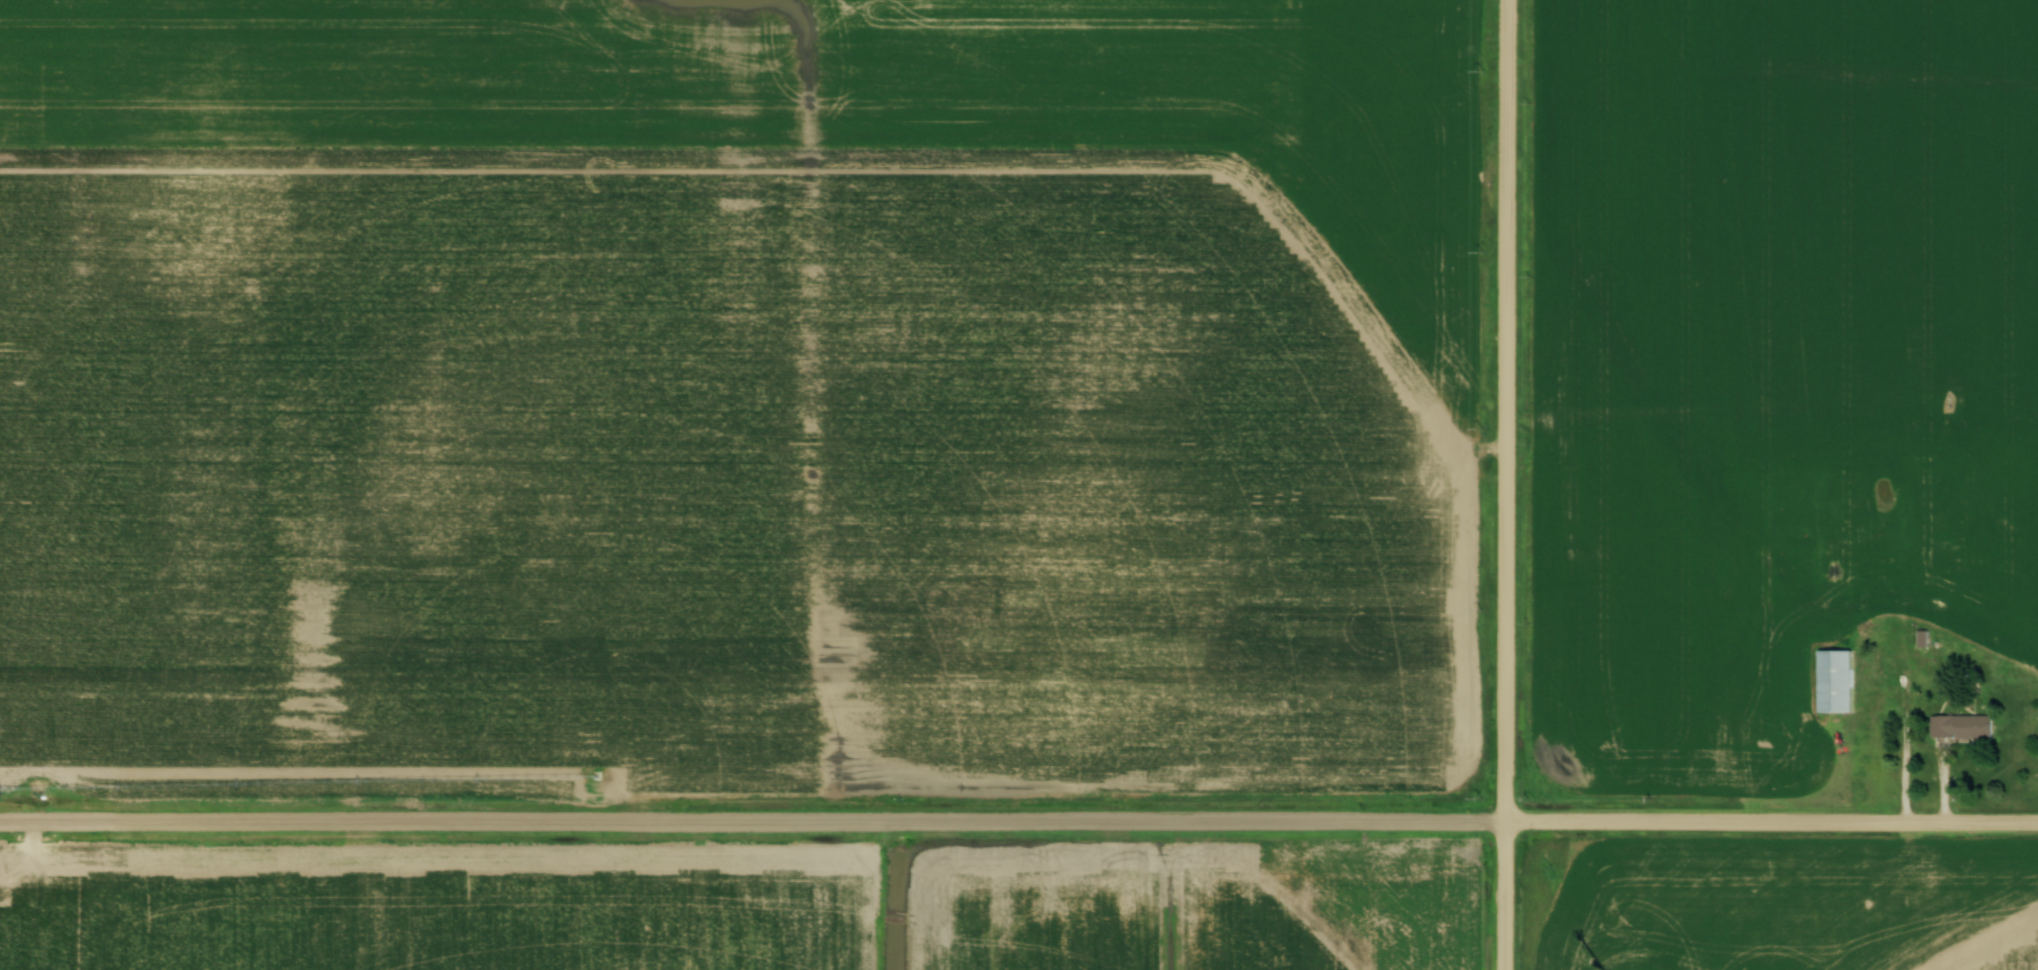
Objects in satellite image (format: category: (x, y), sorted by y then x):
road: (1508, 485)
building: (1833, 544)
building: (2031, 620)
building: (1950, 641)
building: (1834, 681)
building: (1960, 726)
road: (1920, 749)
road: (1018, 822)

